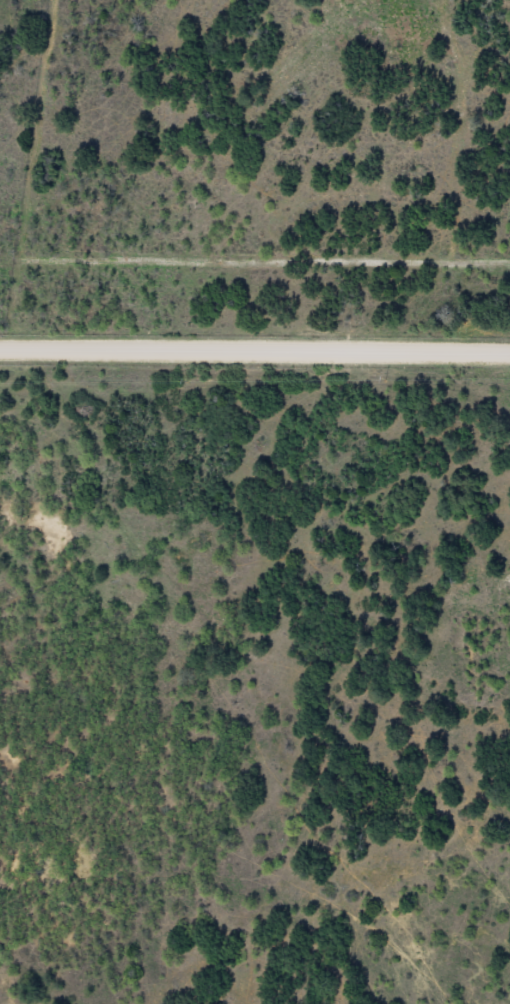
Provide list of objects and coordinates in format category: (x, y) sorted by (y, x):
road: (255, 359)

